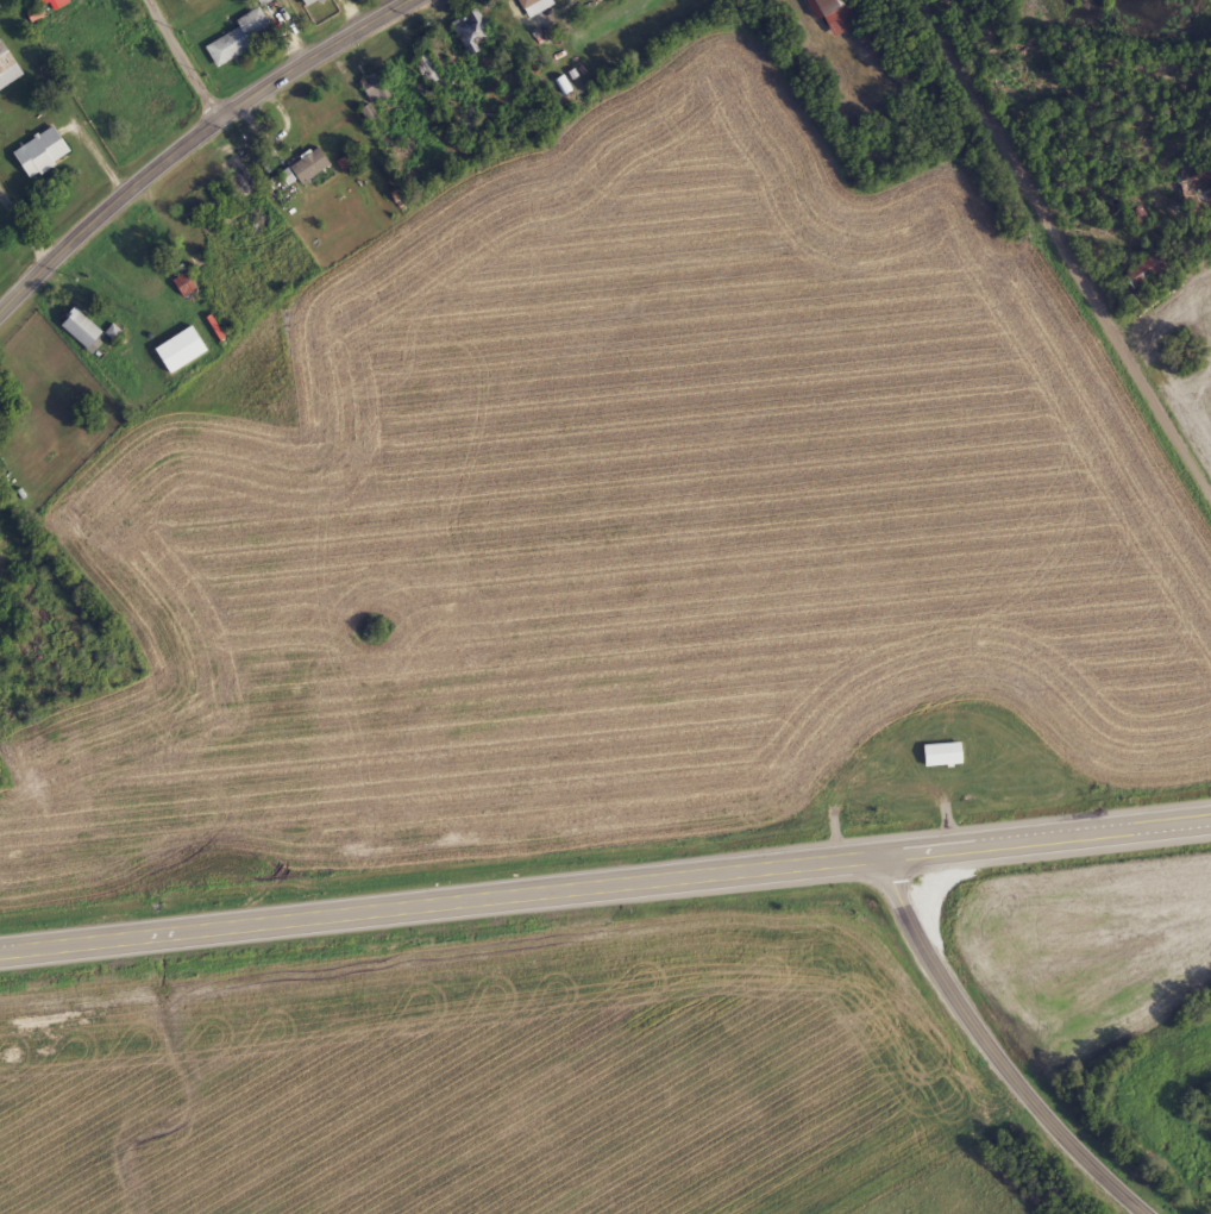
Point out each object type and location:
building: (264, 0)
building: (42, 1)
building: (309, 1)
building: (525, 1)
building: (837, 13)
building: (475, 30)
building: (239, 37)
road: (189, 57)
building: (8, 67)
building: (431, 68)
building: (377, 87)
building: (371, 114)
road: (193, 140)
building: (44, 151)
building: (306, 167)
road: (1066, 242)
building: (1148, 269)
building: (83, 327)
building: (115, 332)
building: (183, 349)
building: (945, 753)
road: (1049, 832)
road: (444, 897)
road: (996, 1049)

